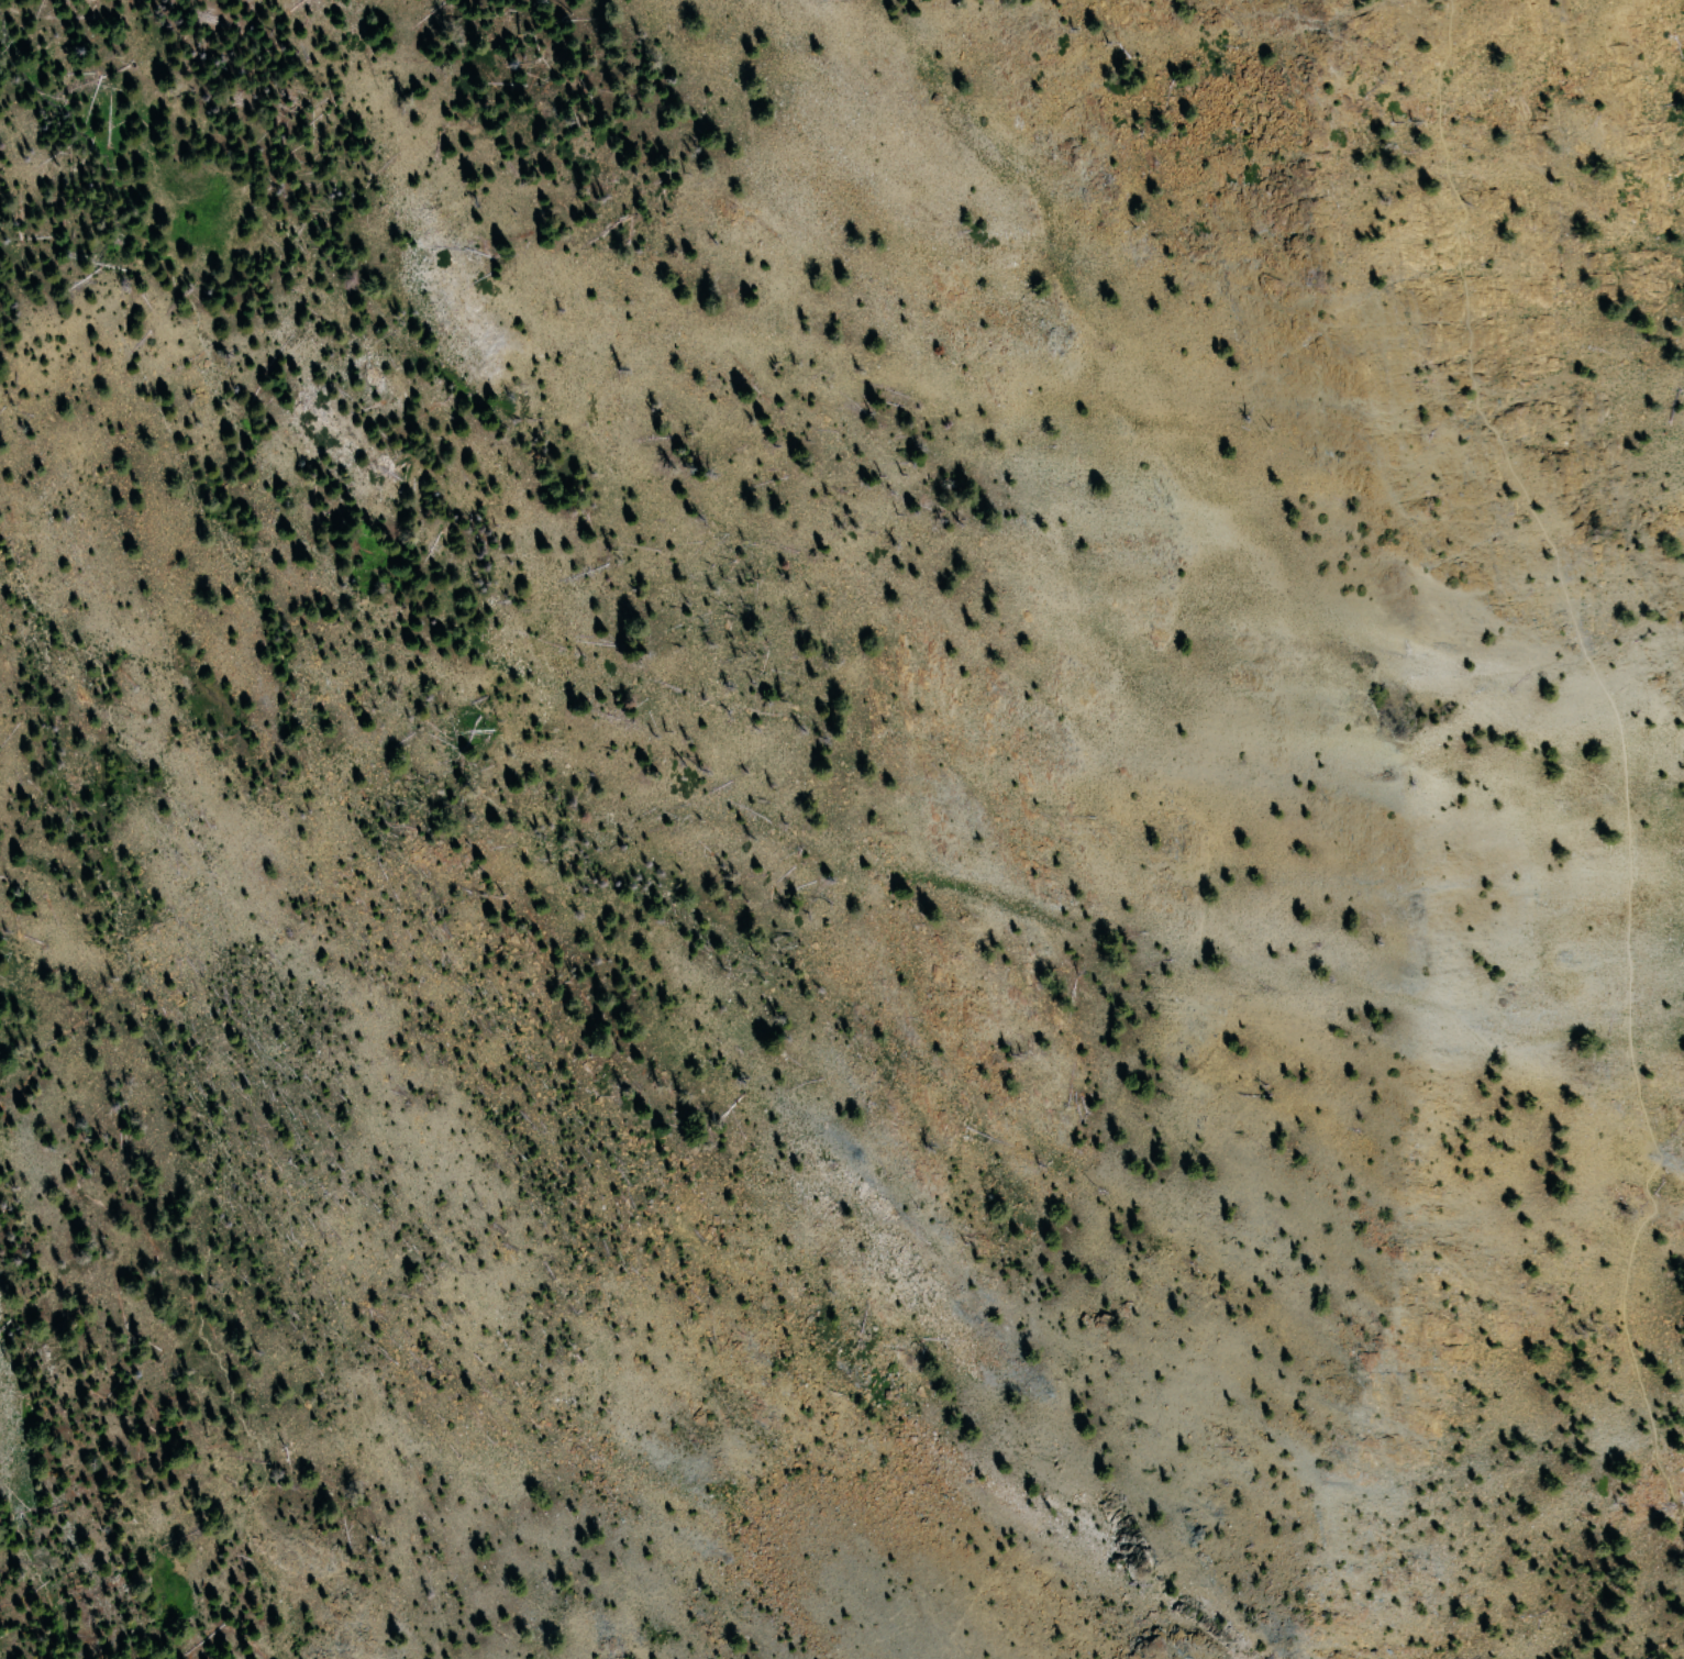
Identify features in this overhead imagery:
road: (1617, 754)

